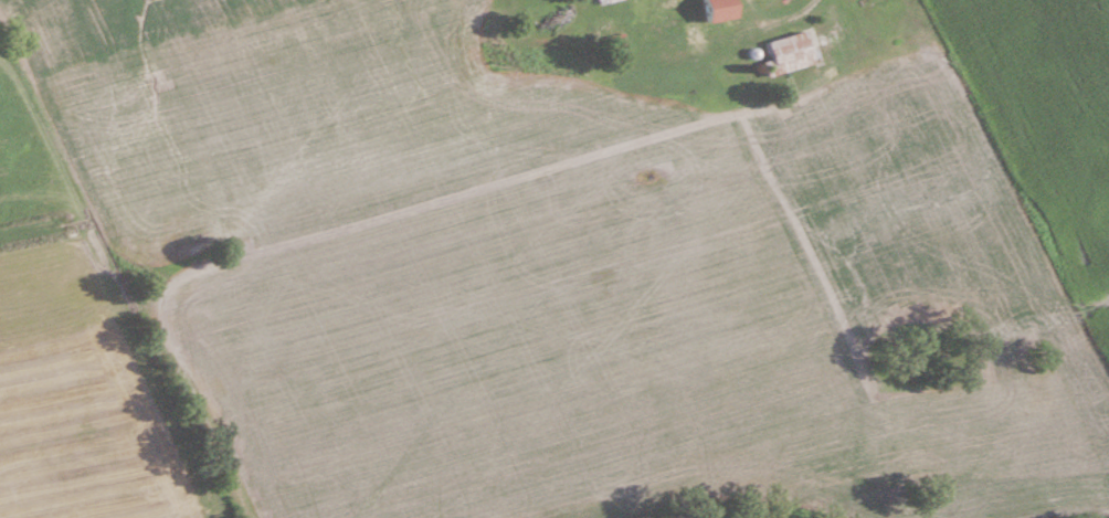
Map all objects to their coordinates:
building: (608, 1)
building: (716, 9)
road: (803, 10)
building: (620, 43)
building: (793, 51)

